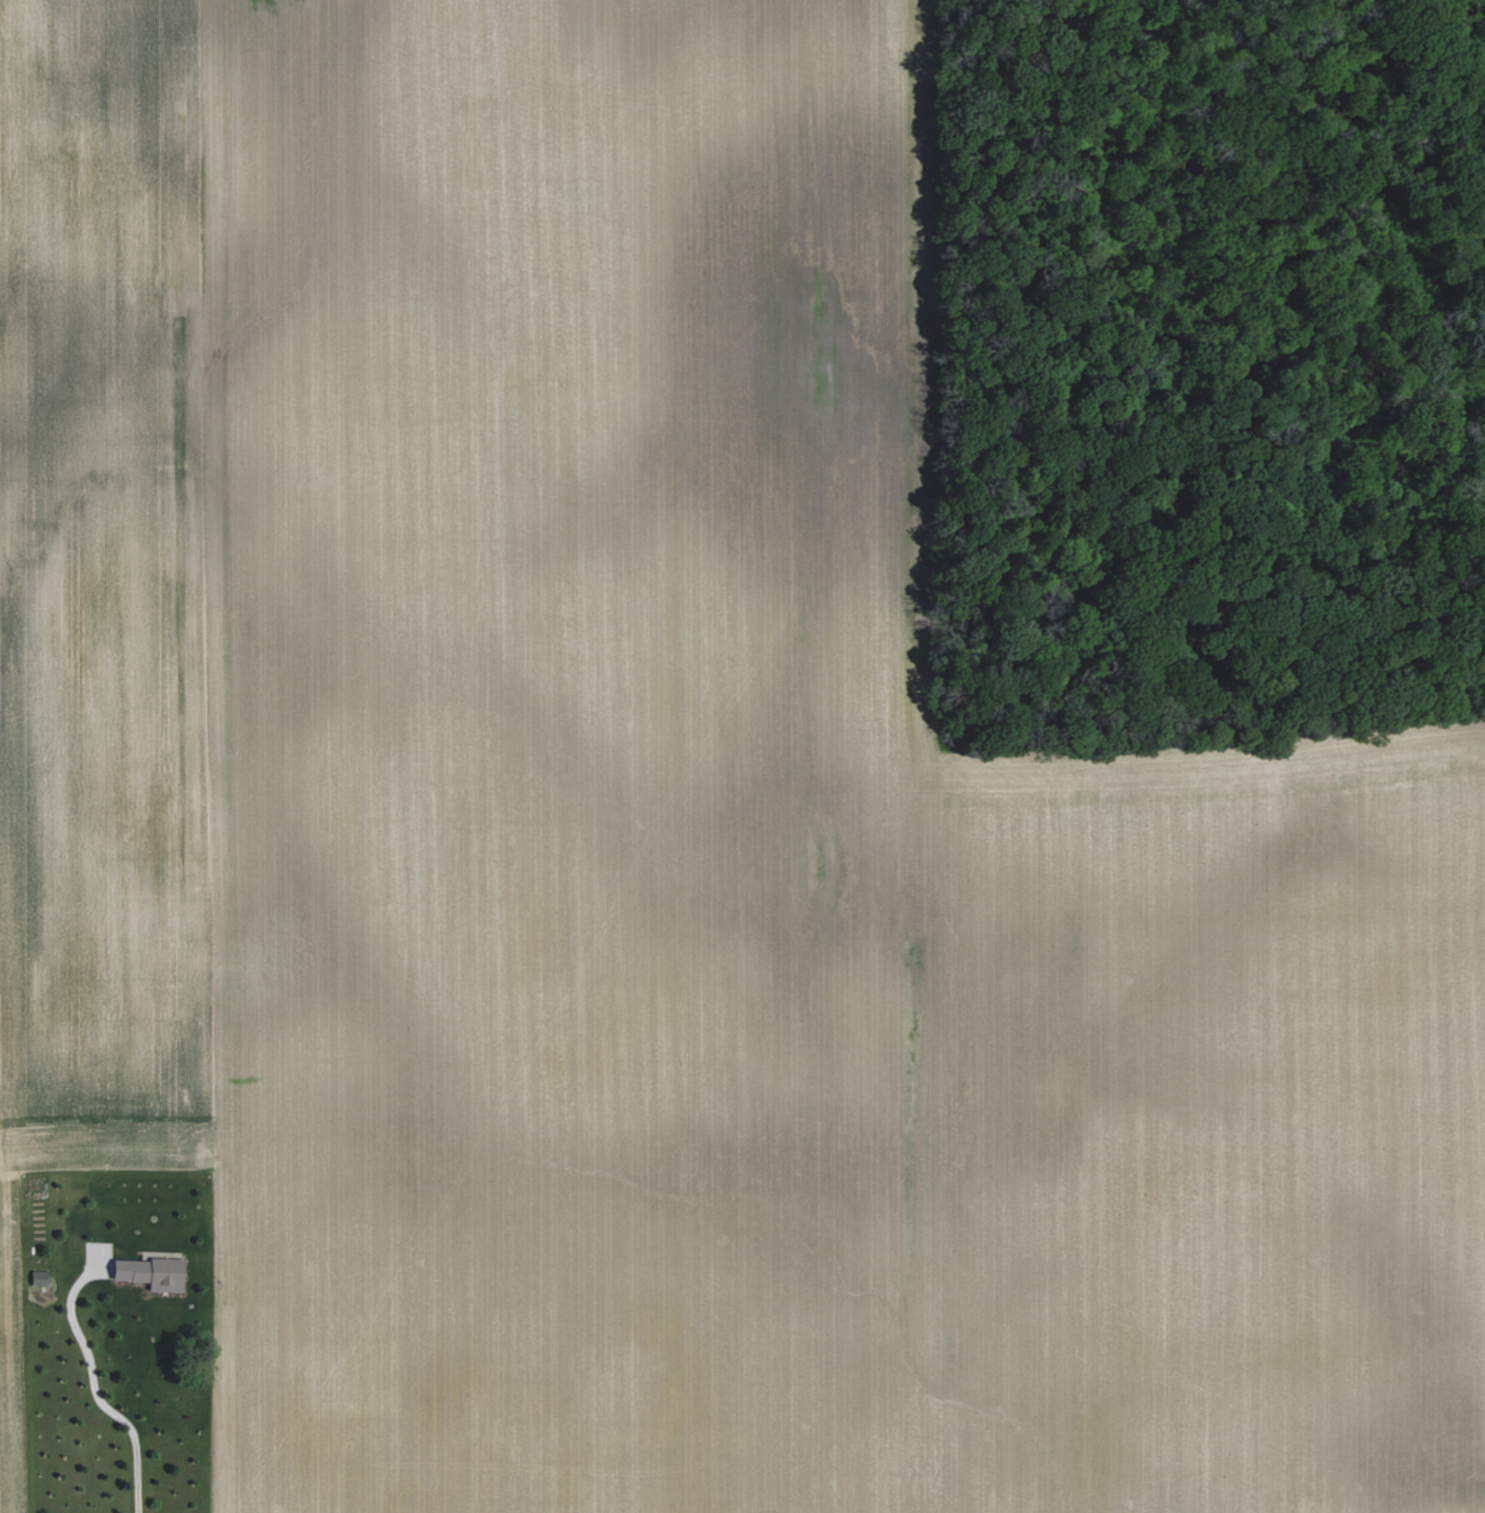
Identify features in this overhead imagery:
building: (150, 1272)
building: (38, 1277)
road: (95, 1393)

